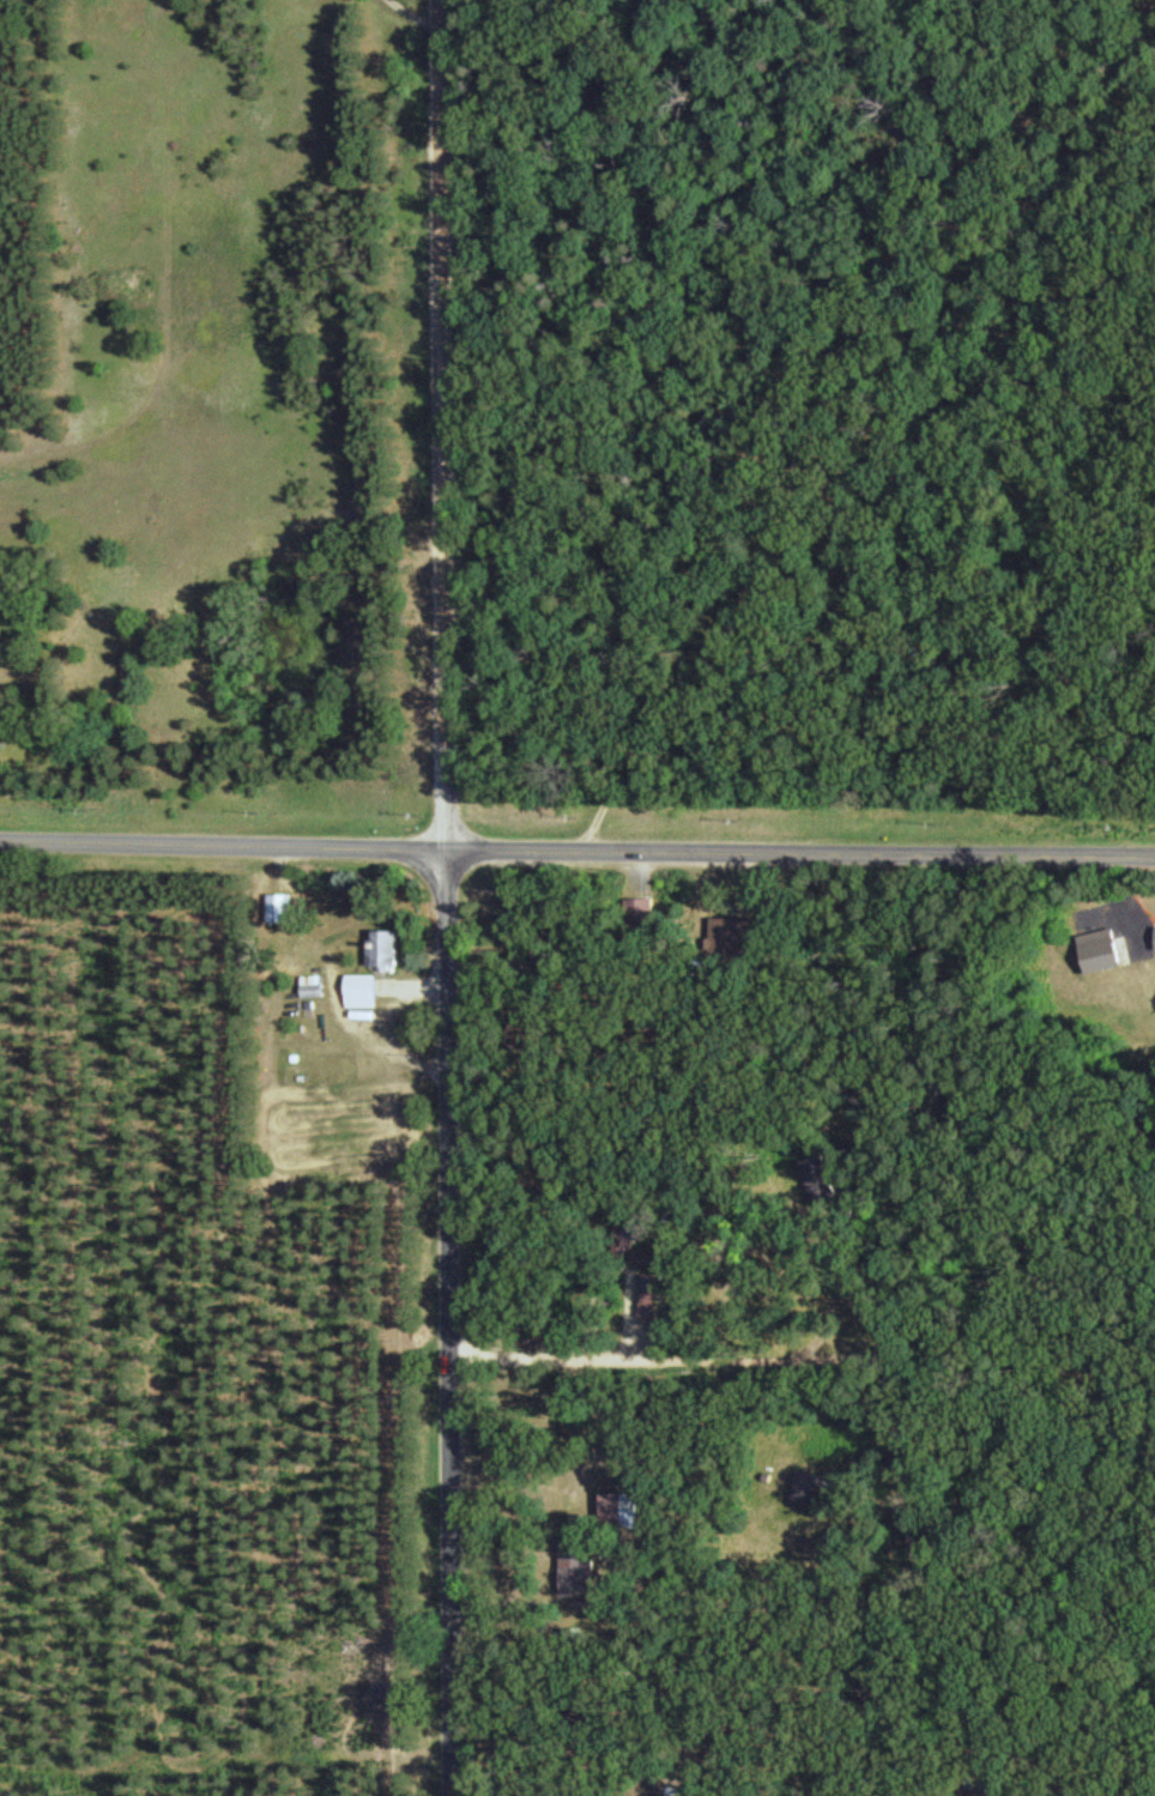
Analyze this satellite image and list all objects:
road: (821, 394)
road: (447, 424)
road: (577, 848)
building: (286, 906)
building: (651, 912)
building: (745, 926)
building: (391, 945)
building: (1107, 948)
building: (322, 988)
building: (368, 988)
building: (822, 1177)
building: (634, 1221)
road: (452, 1322)
building: (814, 1484)
building: (629, 1507)
building: (581, 1565)

